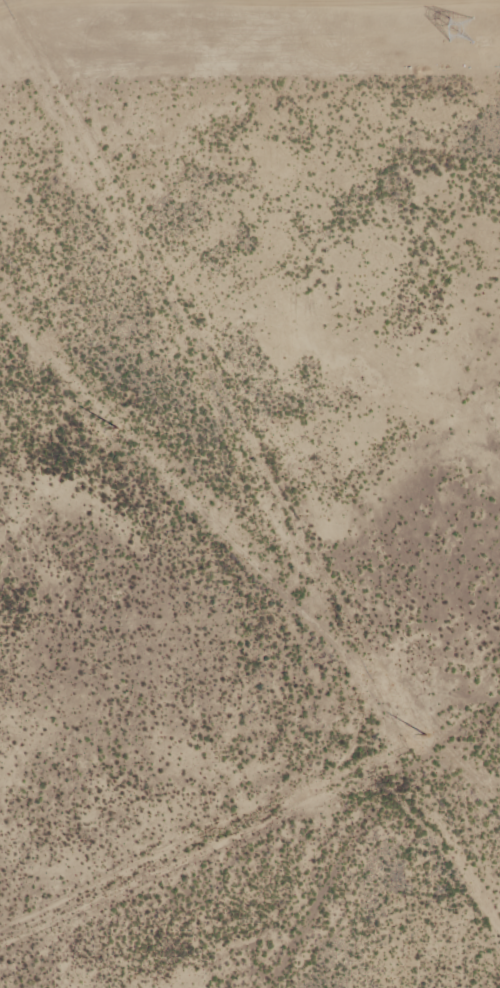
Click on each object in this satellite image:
power tower: (467, 19)
power tower: (114, 427)
power tower: (422, 731)
road: (349, 815)

